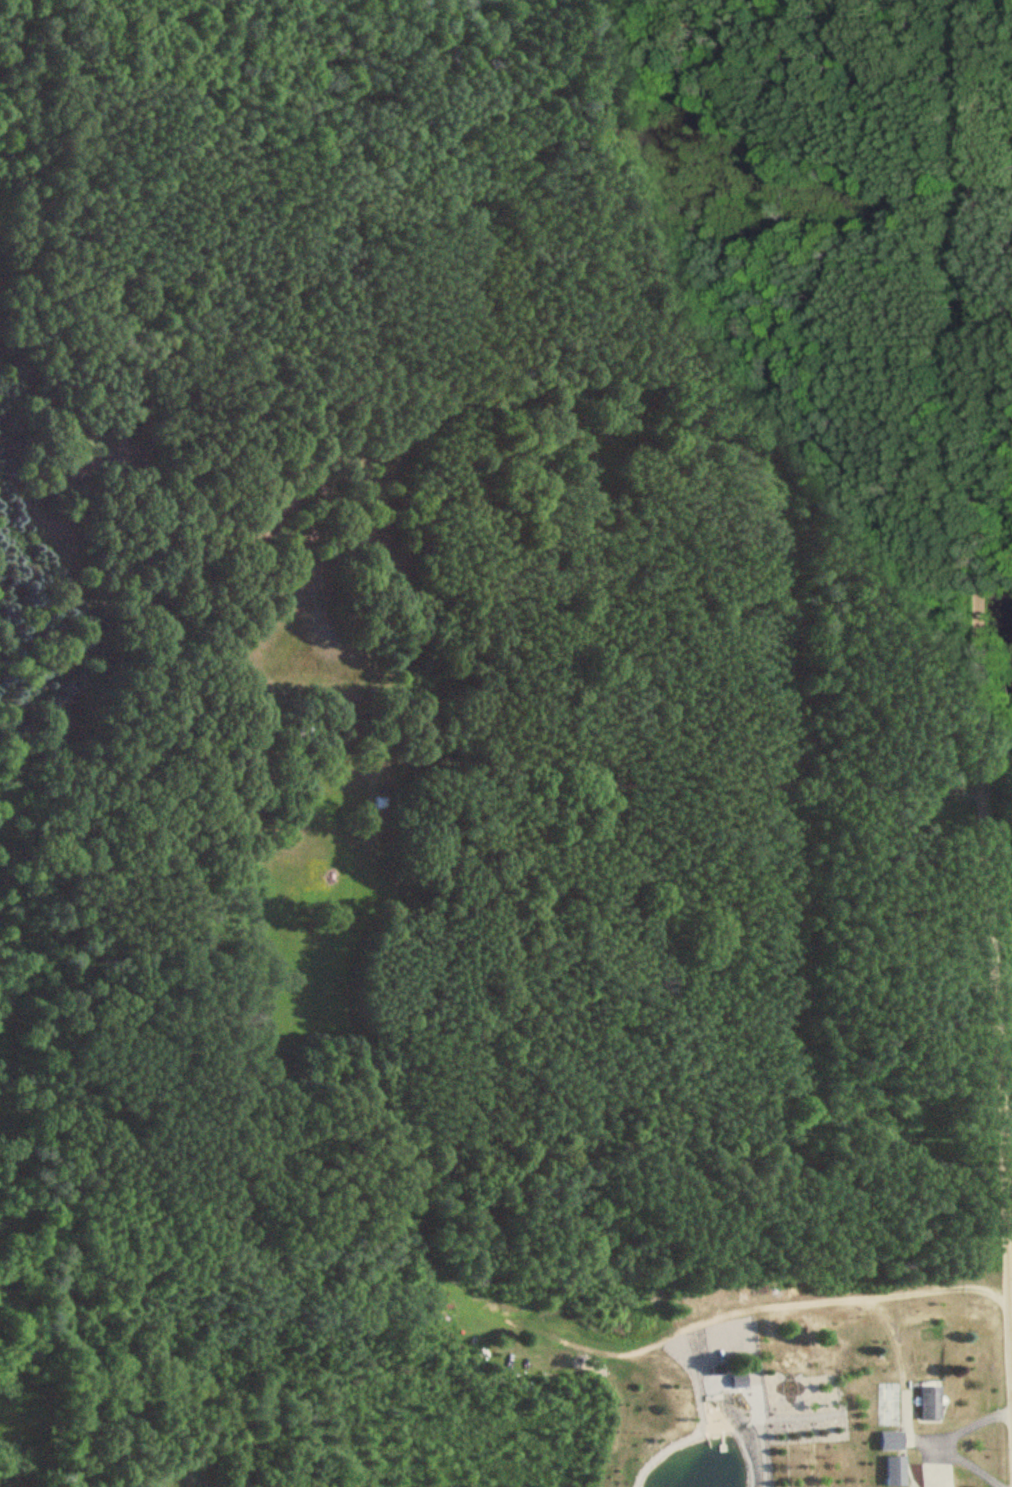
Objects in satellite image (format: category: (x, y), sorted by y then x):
road: (972, 686)
building: (737, 1380)
building: (928, 1402)
building: (890, 1441)
building: (894, 1471)

